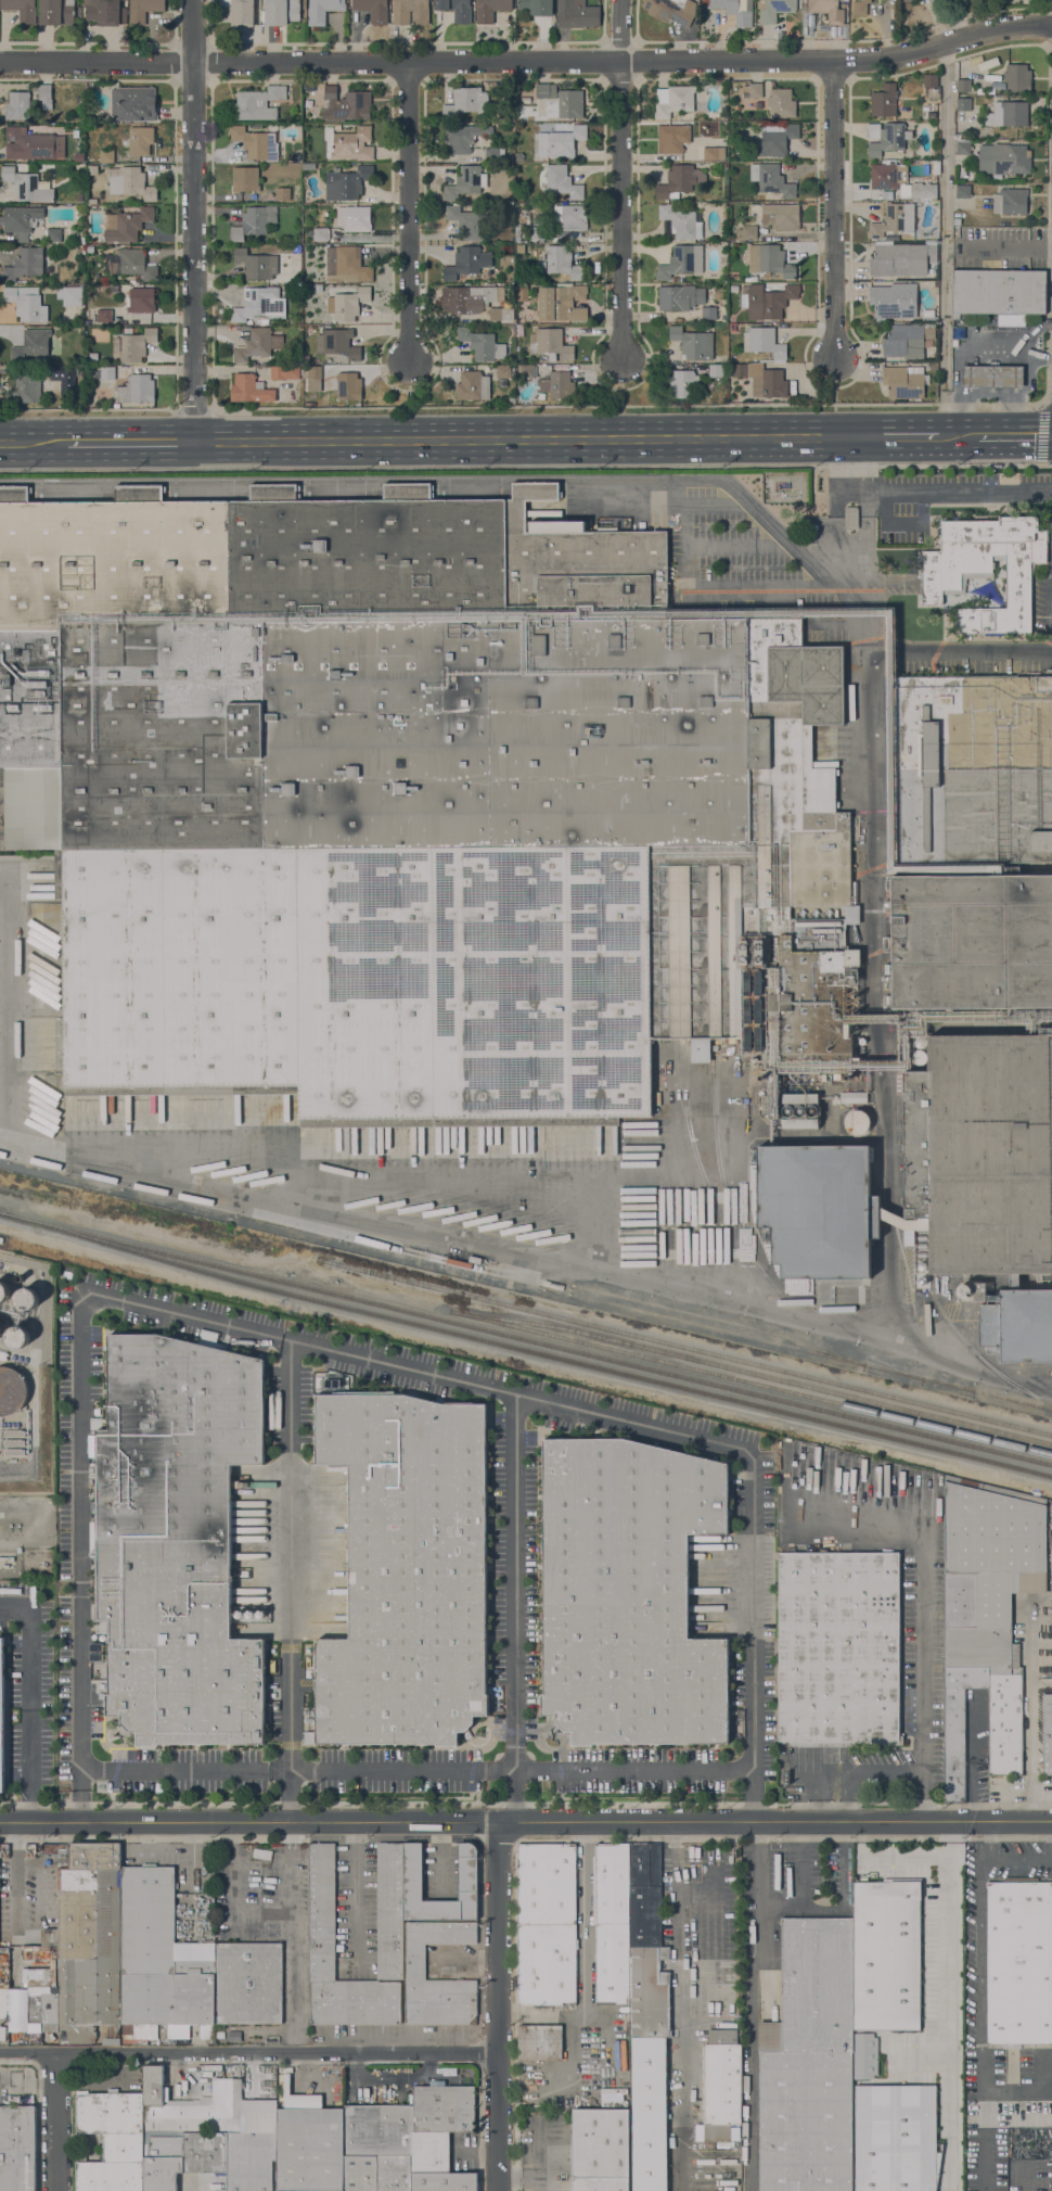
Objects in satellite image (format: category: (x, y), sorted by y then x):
building: (845, 0)
building: (909, 0)
building: (304, 4)
building: (536, 7)
building: (859, 8)
building: (21, 9)
building: (490, 9)
building: (143, 10)
building: (322, 10)
building: (373, 10)
building: (457, 10)
building: (671, 10)
building: (735, 10)
building: (775, 10)
building: (828, 10)
building: (281, 11)
building: (56, 12)
building: (104, 12)
building: (236, 12)
building: (410, 12)
building: (576, 14)
road: (528, 61)
building: (988, 64)
building: (1017, 75)
building: (963, 85)
building: (998, 85)
building: (308, 87)
building: (931, 87)
building: (755, 90)
building: (985, 90)
building: (547, 91)
building: (44, 95)
building: (673, 100)
building: (503, 101)
building: (884, 101)
building: (466, 102)
building: (133, 103)
building: (257, 103)
building: (569, 103)
building: (781, 103)
building: (346, 104)
building: (963, 104)
building: (17, 105)
building: (1008, 114)
building: (534, 117)
building: (337, 127)
building: (464, 137)
building: (957, 137)
building: (672, 138)
building: (886, 138)
building: (140, 140)
building: (779, 140)
building: (560, 141)
building: (256, 143)
building: (349, 143)
building: (31, 144)
building: (962, 147)
building: (714, 153)
building: (491, 154)
building: (897, 155)
building: (106, 156)
building: (1003, 158)
building: (722, 164)
building: (308, 166)
building: (936, 166)
building: (885, 176)
building: (245, 179)
building: (557, 180)
road: (620, 180)
building: (771, 180)
building: (131, 181)
building: (679, 181)
building: (347, 182)
building: (465, 182)
building: (27, 186)
building: (923, 191)
building: (962, 191)
building: (905, 192)
building: (282, 193)
building: (1010, 201)
road: (408, 212)
road: (834, 212)
building: (569, 216)
building: (780, 216)
building: (354, 218)
road: (193, 219)
building: (893, 219)
building: (21, 220)
building: (254, 221)
building: (465, 221)
building: (680, 221)
building: (127, 225)
building: (748, 232)
building: (320, 233)
building: (53, 234)
building: (523, 234)
building: (540, 234)
building: (517, 235)
road: (946, 239)
building: (884, 242)
building: (239, 243)
building: (519, 249)
building: (91, 250)
building: (62, 251)
building: (902, 258)
building: (769, 260)
building: (21, 262)
building: (562, 262)
building: (681, 262)
building: (463, 263)
building: (133, 264)
building: (256, 264)
building: (346, 265)
building: (753, 278)
building: (104, 279)
building: (677, 279)
building: (318, 288)
building: (999, 292)
building: (70, 295)
building: (680, 297)
building: (466, 298)
building: (140, 300)
building: (768, 301)
building: (894, 301)
building: (26, 303)
building: (258, 303)
building: (562, 303)
building: (347, 304)
building: (708, 313)
building: (500, 314)
building: (104, 316)
building: (928, 316)
building: (955, 316)
building: (523, 318)
building: (1012, 320)
building: (260, 321)
building: (959, 332)
building: (908, 340)
building: (764, 342)
building: (550, 343)
building: (692, 343)
building: (954, 343)
building: (31, 344)
building: (258, 344)
building: (337, 344)
building: (480, 344)
building: (137, 345)
building: (94, 356)
building: (733, 357)
building: (41, 359)
building: (743, 360)
building: (933, 367)
building: (69, 370)
building: (715, 370)
building: (502, 371)
building: (526, 371)
building: (106, 372)
building: (284, 372)
building: (57, 373)
building: (992, 377)
gas station: (992, 377)
building: (312, 378)
building: (760, 379)
building: (905, 381)
building: (682, 383)
road: (409, 384)
road: (621, 384)
road: (835, 384)
building: (48, 385)
building: (473, 385)
building: (559, 385)
building: (348, 386)
building: (26, 388)
building: (137, 388)
building: (249, 388)
building: (541, 396)
road: (627, 406)
road: (88, 409)
road: (193, 409)
road: (1045, 430)
road: (958, 434)
road: (1014, 434)
road: (896, 435)
road: (523, 437)
road: (129, 441)
road: (33, 442)
road: (525, 467)
road: (1042, 489)
road: (925, 492)
building: (851, 518)
building: (986, 569)
building: (973, 768)
building: (411, 805)
building: (854, 891)
building: (972, 941)
building: (920, 1042)
building: (919, 1057)
building: (825, 1078)
building: (852, 1097)
building: (800, 1111)
building: (857, 1122)
building: (987, 1174)
building: (819, 1213)
building: (903, 1222)
building: (1, 1239)
building: (474, 1260)
building: (20, 1278)
building: (3, 1291)
building: (964, 1291)
building: (979, 1291)
building: (26, 1299)
railway: (721, 1319)
building: (140, 1320)
building: (0, 1330)
building: (17, 1337)
railway: (526, 1338)
railway: (687, 1346)
railway: (525, 1348)
railway: (811, 1350)
railway: (974, 1351)
road: (341, 1354)
railway: (764, 1375)
railway: (750, 1380)
building: (12, 1390)
parking lot: (78, 1530)
building: (176, 1539)
building: (406, 1571)
road: (291, 1582)
building: (628, 1593)
building: (991, 1597)
road: (516, 1609)
building: (838, 1648)
road: (921, 1649)
road: (31, 1700)
road: (1031, 1710)
parking lot: (31, 1711)
building: (1, 1715)
building: (958, 1725)
building: (1047, 1734)
road: (418, 1772)
road: (884, 1773)
road: (526, 1822)
road: (291, 1834)
building: (261, 1854)
road: (887, 1858)
road: (1021, 1859)
road: (15, 1875)
building: (412, 1876)
road: (290, 1882)
road: (356, 1890)
road: (233, 1898)
building: (612, 1922)
building: (547, 1924)
building: (646, 1946)
building: (389, 1949)
building: (886, 1954)
building: (141, 1960)
building: (415, 1961)
road: (586, 1961)
road: (464, 1962)
building: (1018, 1962)
road: (291, 1985)
road: (979, 1993)
road: (498, 2005)
road: (750, 2005)
road: (683, 2007)
road: (949, 2007)
building: (2, 2033)
building: (722, 2034)
building: (219, 2035)
building: (540, 2042)
road: (248, 2052)
building: (863, 2055)
building: (809, 2062)
building: (721, 2088)
building: (226, 2106)
building: (170, 2109)
building: (441, 2109)
building: (649, 2114)
building: (600, 2118)
road: (59, 2122)
building: (376, 2130)
building: (895, 2138)
building: (111, 2140)
building: (309, 2143)
building: (16, 2148)
building: (205, 2152)
building: (429, 2152)
building: (600, 2160)
building: (162, 2161)
building: (251, 2161)
building: (360, 2174)
building: (394, 2174)
road: (1026, 2177)
building: (442, 2181)

